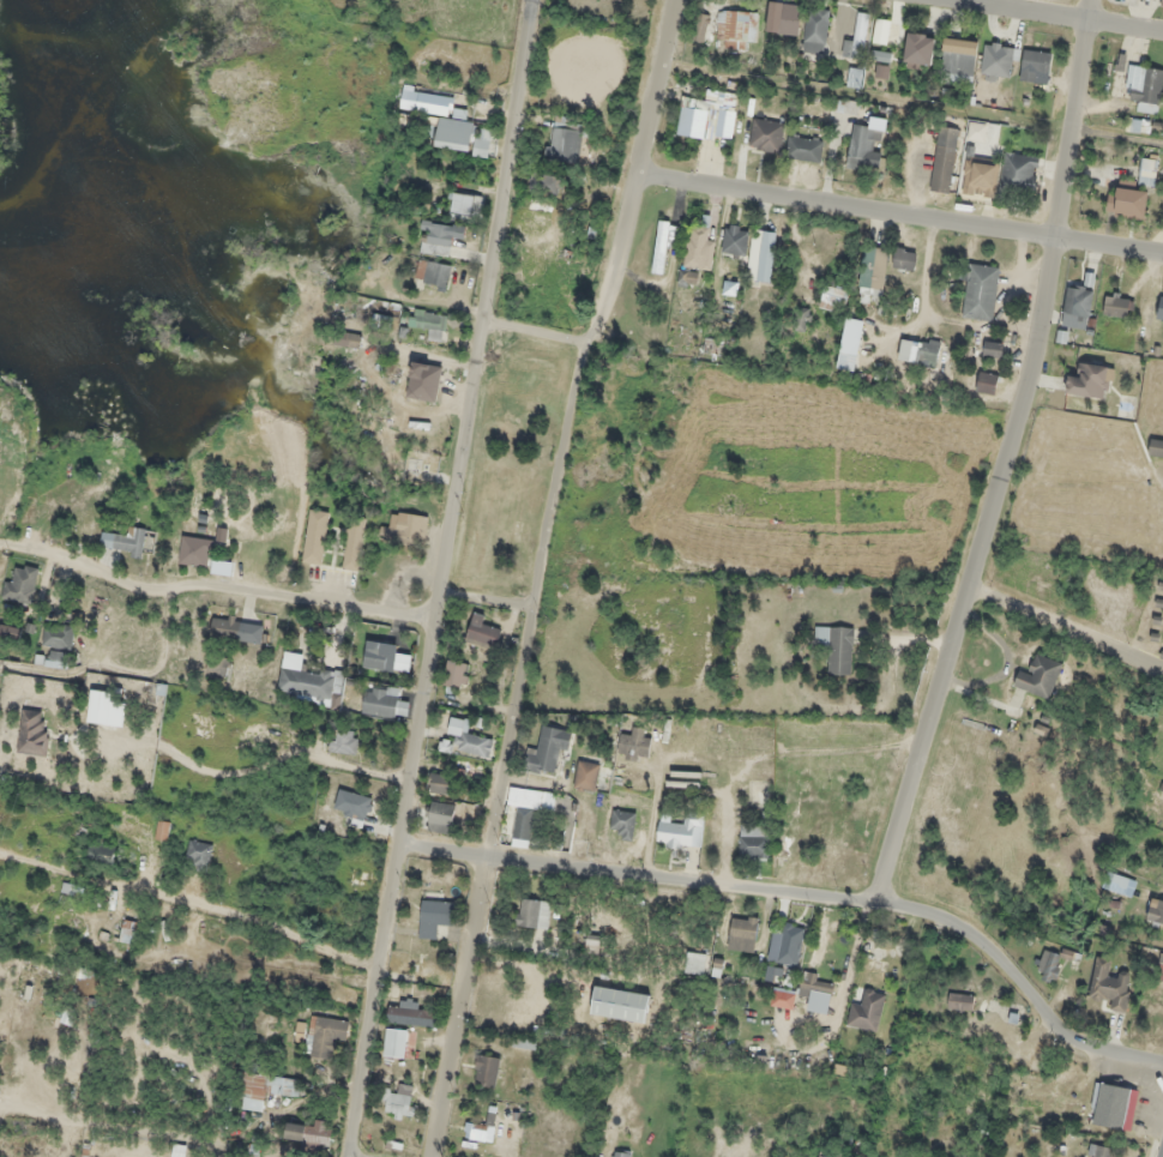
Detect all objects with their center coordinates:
building: (1161, 2)
building: (784, 17)
road: (1050, 18)
building: (736, 26)
building: (703, 28)
building: (815, 30)
building: (856, 38)
building: (918, 48)
building: (999, 59)
building: (958, 60)
building: (1116, 61)
building: (1035, 67)
building: (854, 78)
building: (1144, 86)
building: (428, 103)
building: (845, 107)
building: (709, 116)
road: (1072, 121)
building: (454, 135)
building: (766, 135)
building: (483, 143)
building: (565, 145)
building: (803, 147)
building: (863, 147)
road: (326, 153)
building: (944, 159)
building: (1147, 171)
building: (1018, 173)
building: (980, 177)
building: (546, 182)
building: (1126, 200)
building: (462, 204)
road: (276, 206)
building: (540, 206)
road: (899, 216)
building: (439, 237)
road: (370, 242)
building: (734, 245)
building: (698, 248)
building: (760, 255)
building: (903, 259)
building: (433, 273)
building: (872, 275)
building: (688, 277)
building: (980, 291)
building: (832, 297)
building: (1077, 305)
building: (1116, 305)
building: (1156, 311)
building: (801, 319)
building: (428, 320)
road: (536, 330)
building: (348, 339)
building: (710, 345)
building: (992, 349)
building: (917, 350)
road: (423, 352)
building: (1089, 380)
building: (987, 382)
building: (416, 386)
building: (1156, 447)
building: (405, 528)
building: (315, 536)
building: (122, 542)
building: (352, 544)
building: (194, 550)
road: (536, 573)
road: (439, 578)
road: (972, 579)
building: (20, 583)
road: (213, 585)
road: (484, 597)
road: (1067, 621)
building: (236, 629)
building: (482, 631)
building: (58, 634)
building: (836, 647)
building: (382, 657)
building: (58, 658)
building: (217, 664)
building: (456, 674)
building: (1038, 676)
building: (306, 679)
building: (384, 703)
building: (101, 707)
building: (34, 733)
building: (469, 737)
building: (343, 740)
building: (634, 743)
building: (548, 749)
building: (586, 776)
building: (442, 782)
building: (352, 803)
building: (524, 813)
building: (440, 816)
building: (621, 824)
building: (162, 830)
building: (677, 831)
building: (753, 843)
building: (101, 852)
building: (198, 855)
building: (1162, 869)
building: (1119, 884)
road: (194, 899)
road: (806, 906)
building: (1155, 911)
building: (534, 912)
building: (434, 917)
building: (128, 932)
building: (742, 933)
building: (592, 942)
building: (787, 942)
building: (695, 963)
building: (1049, 966)
building: (1159, 968)
building: (874, 970)
building: (1109, 984)
building: (816, 990)
building: (959, 1001)
building: (620, 1004)
building: (866, 1011)
building: (414, 1013)
building: (325, 1036)
building: (397, 1042)
building: (487, 1071)
building: (269, 1085)
building: (400, 1105)
building: (1114, 1105)
building: (476, 1131)
building: (308, 1132)
building: (1099, 1151)
road: (4, 1152)
building: (621, 1153)
building: (824, 1156)

